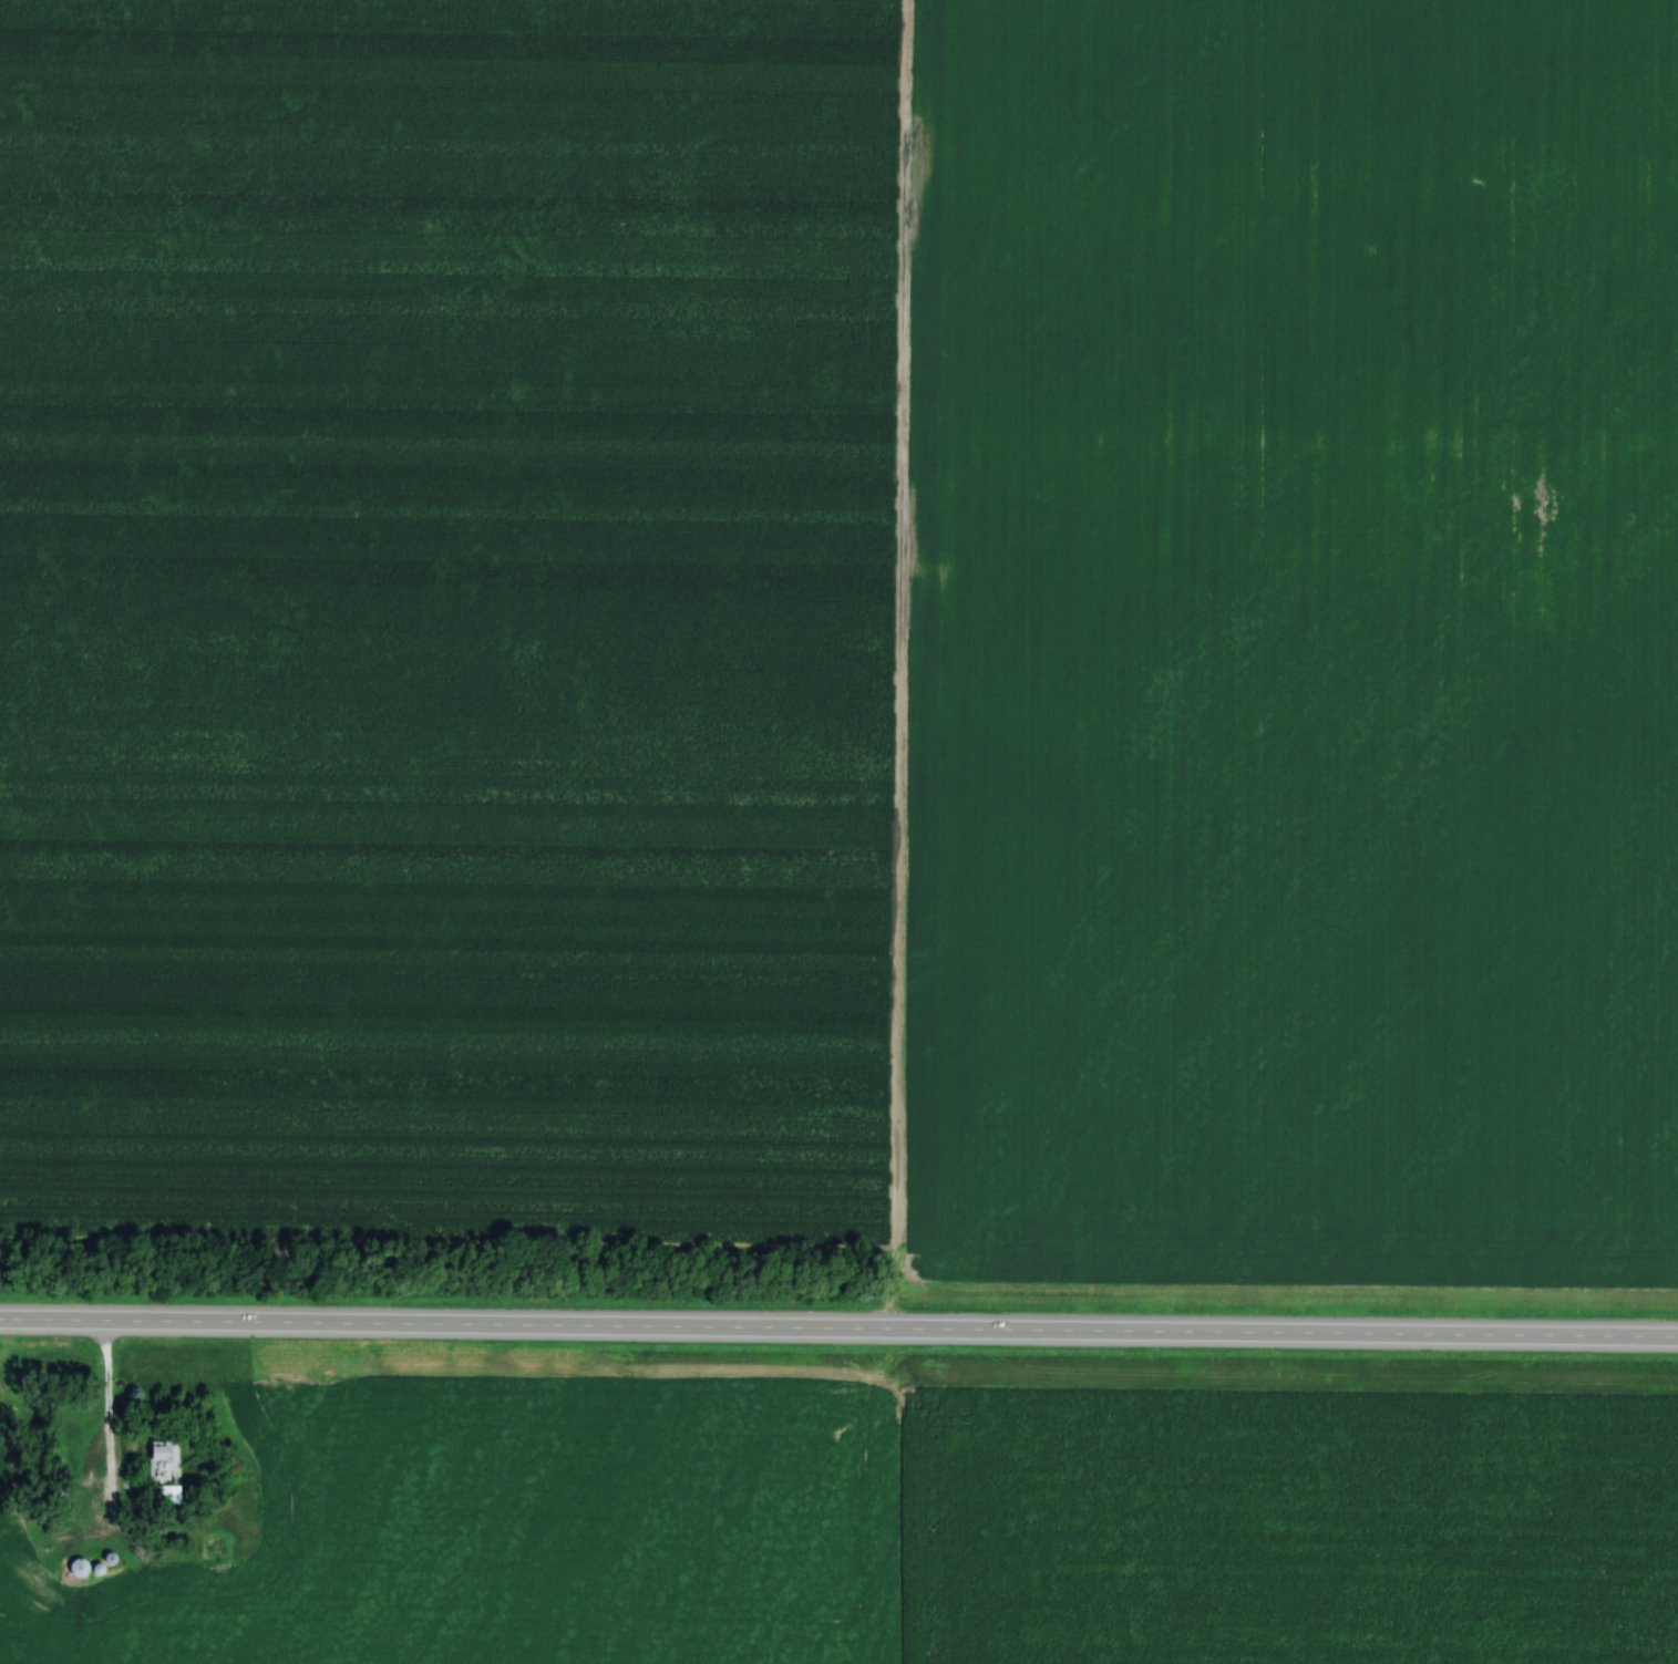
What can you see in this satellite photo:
road: (838, 1331)
road: (105, 1396)
building: (164, 1459)
building: (80, 1569)

